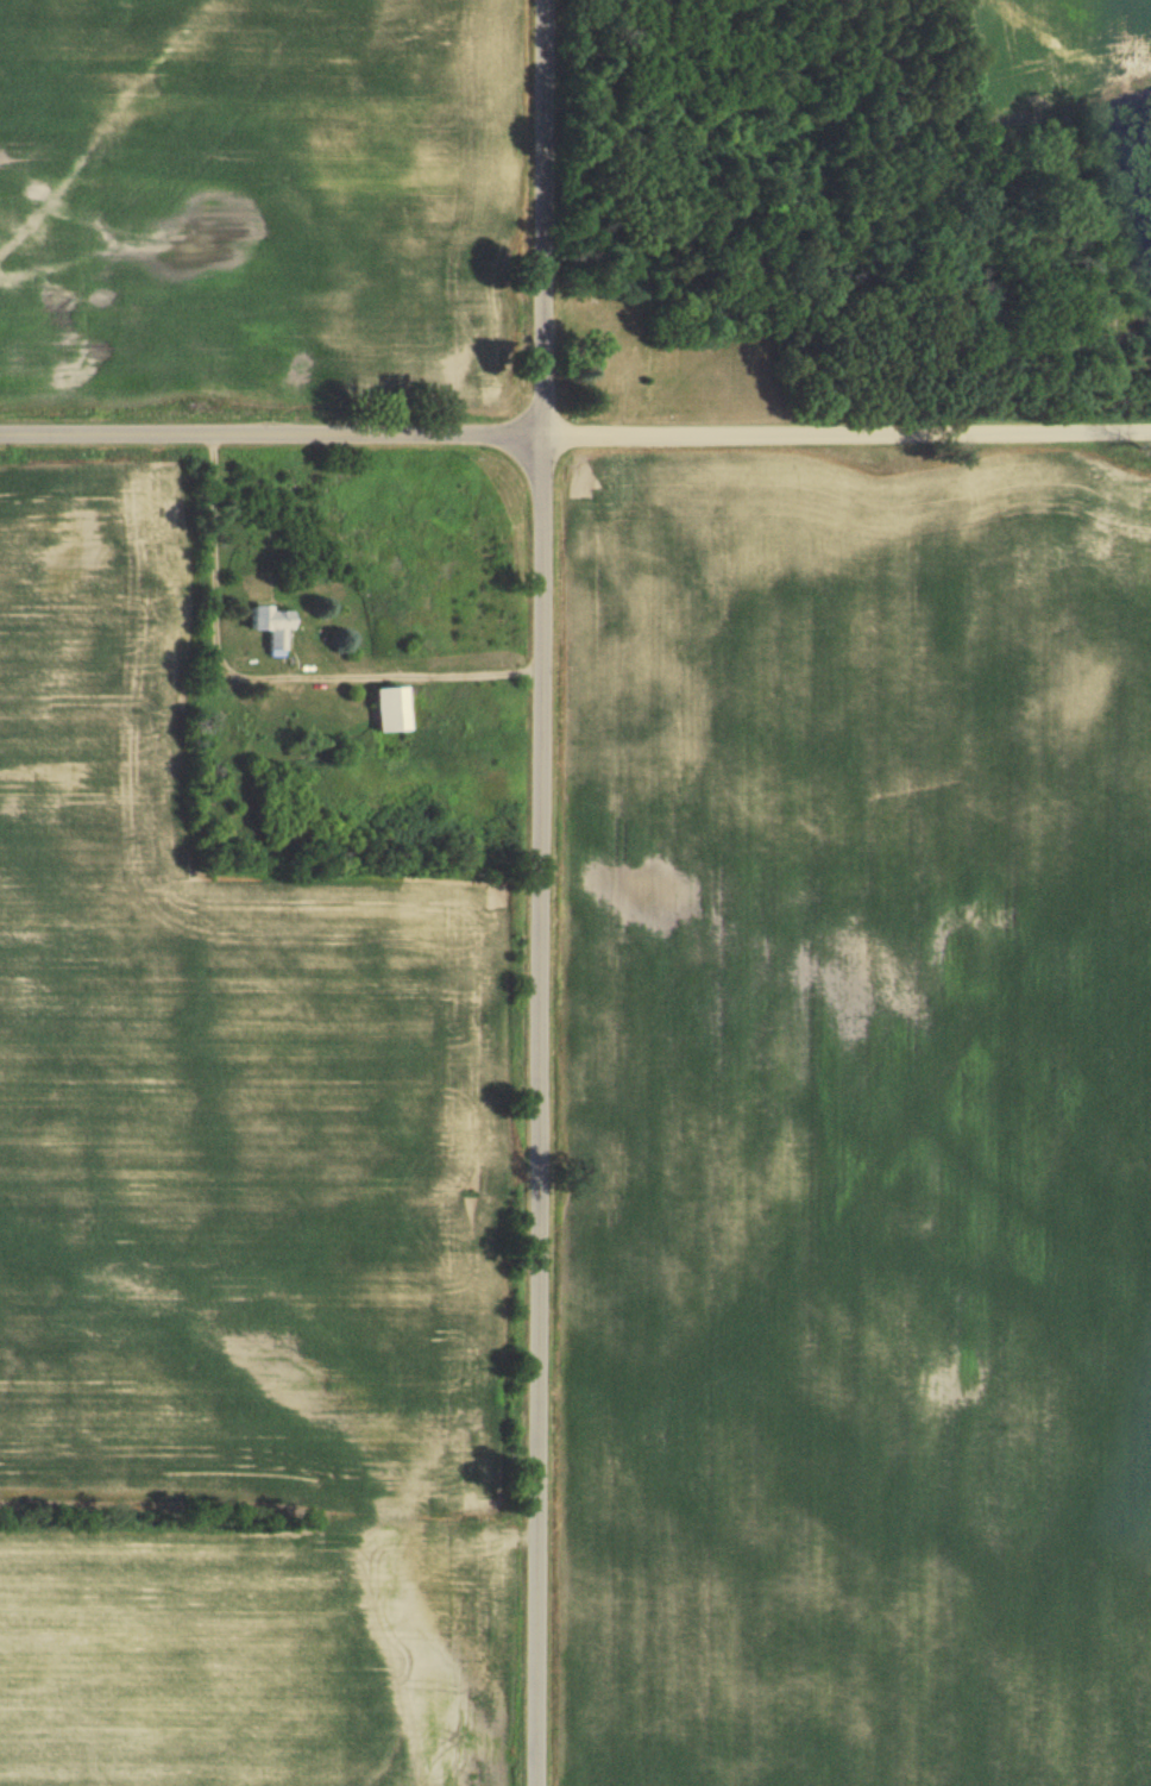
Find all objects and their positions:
road: (270, 434)
road: (845, 434)
building: (275, 622)
building: (396, 707)
road: (539, 892)

